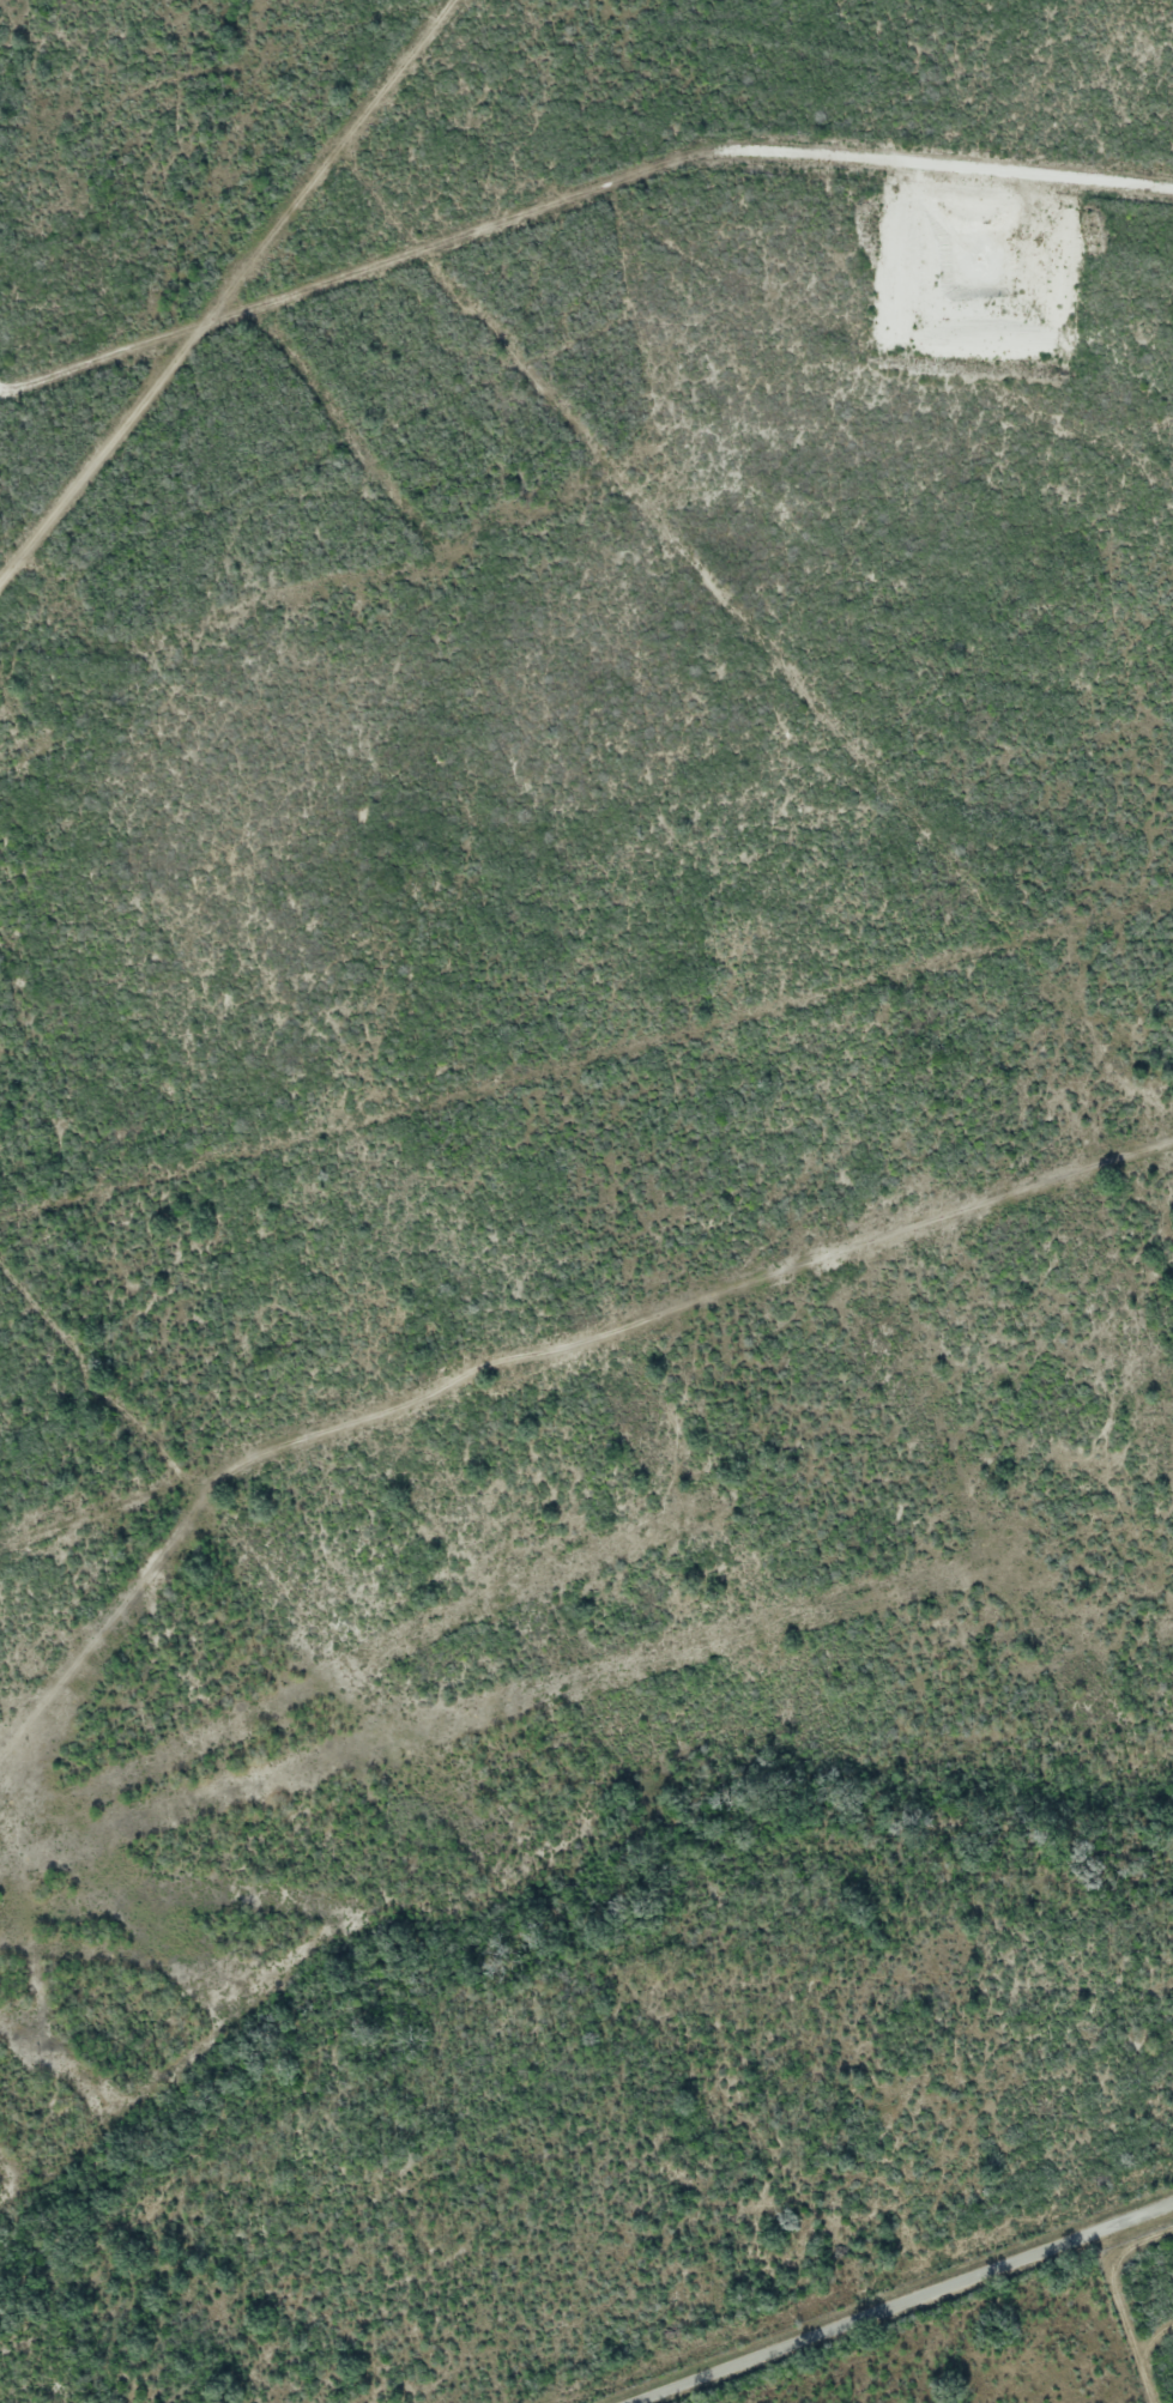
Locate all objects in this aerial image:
road: (913, 2305)

